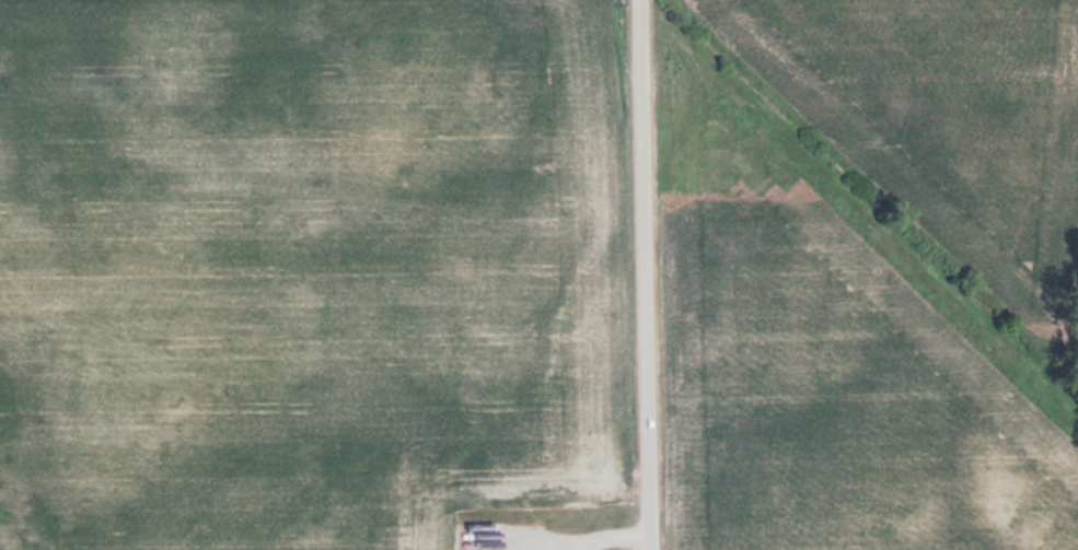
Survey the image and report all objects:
road: (647, 274)
road: (608, 536)

